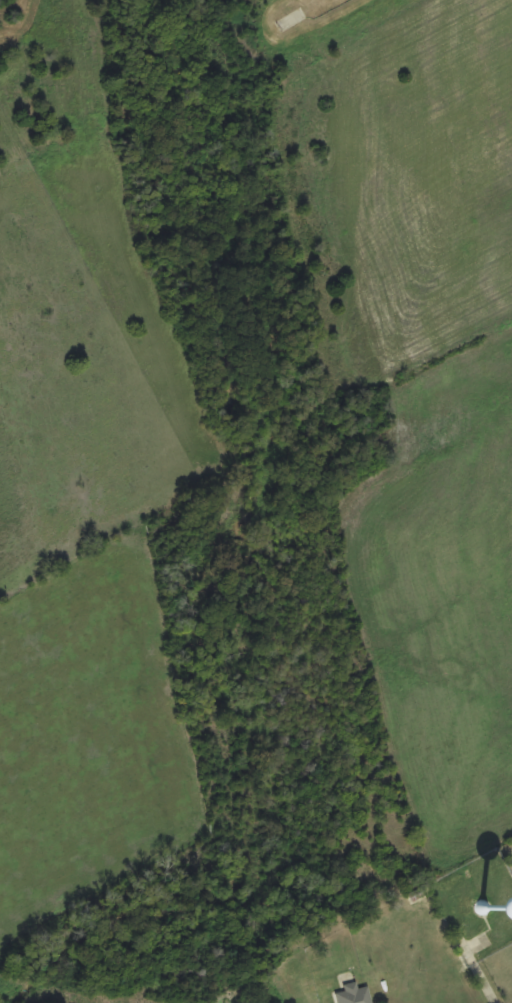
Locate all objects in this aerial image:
building: (292, 20)
water tower: (491, 908)
building: (479, 914)
road: (485, 979)
building: (353, 994)

